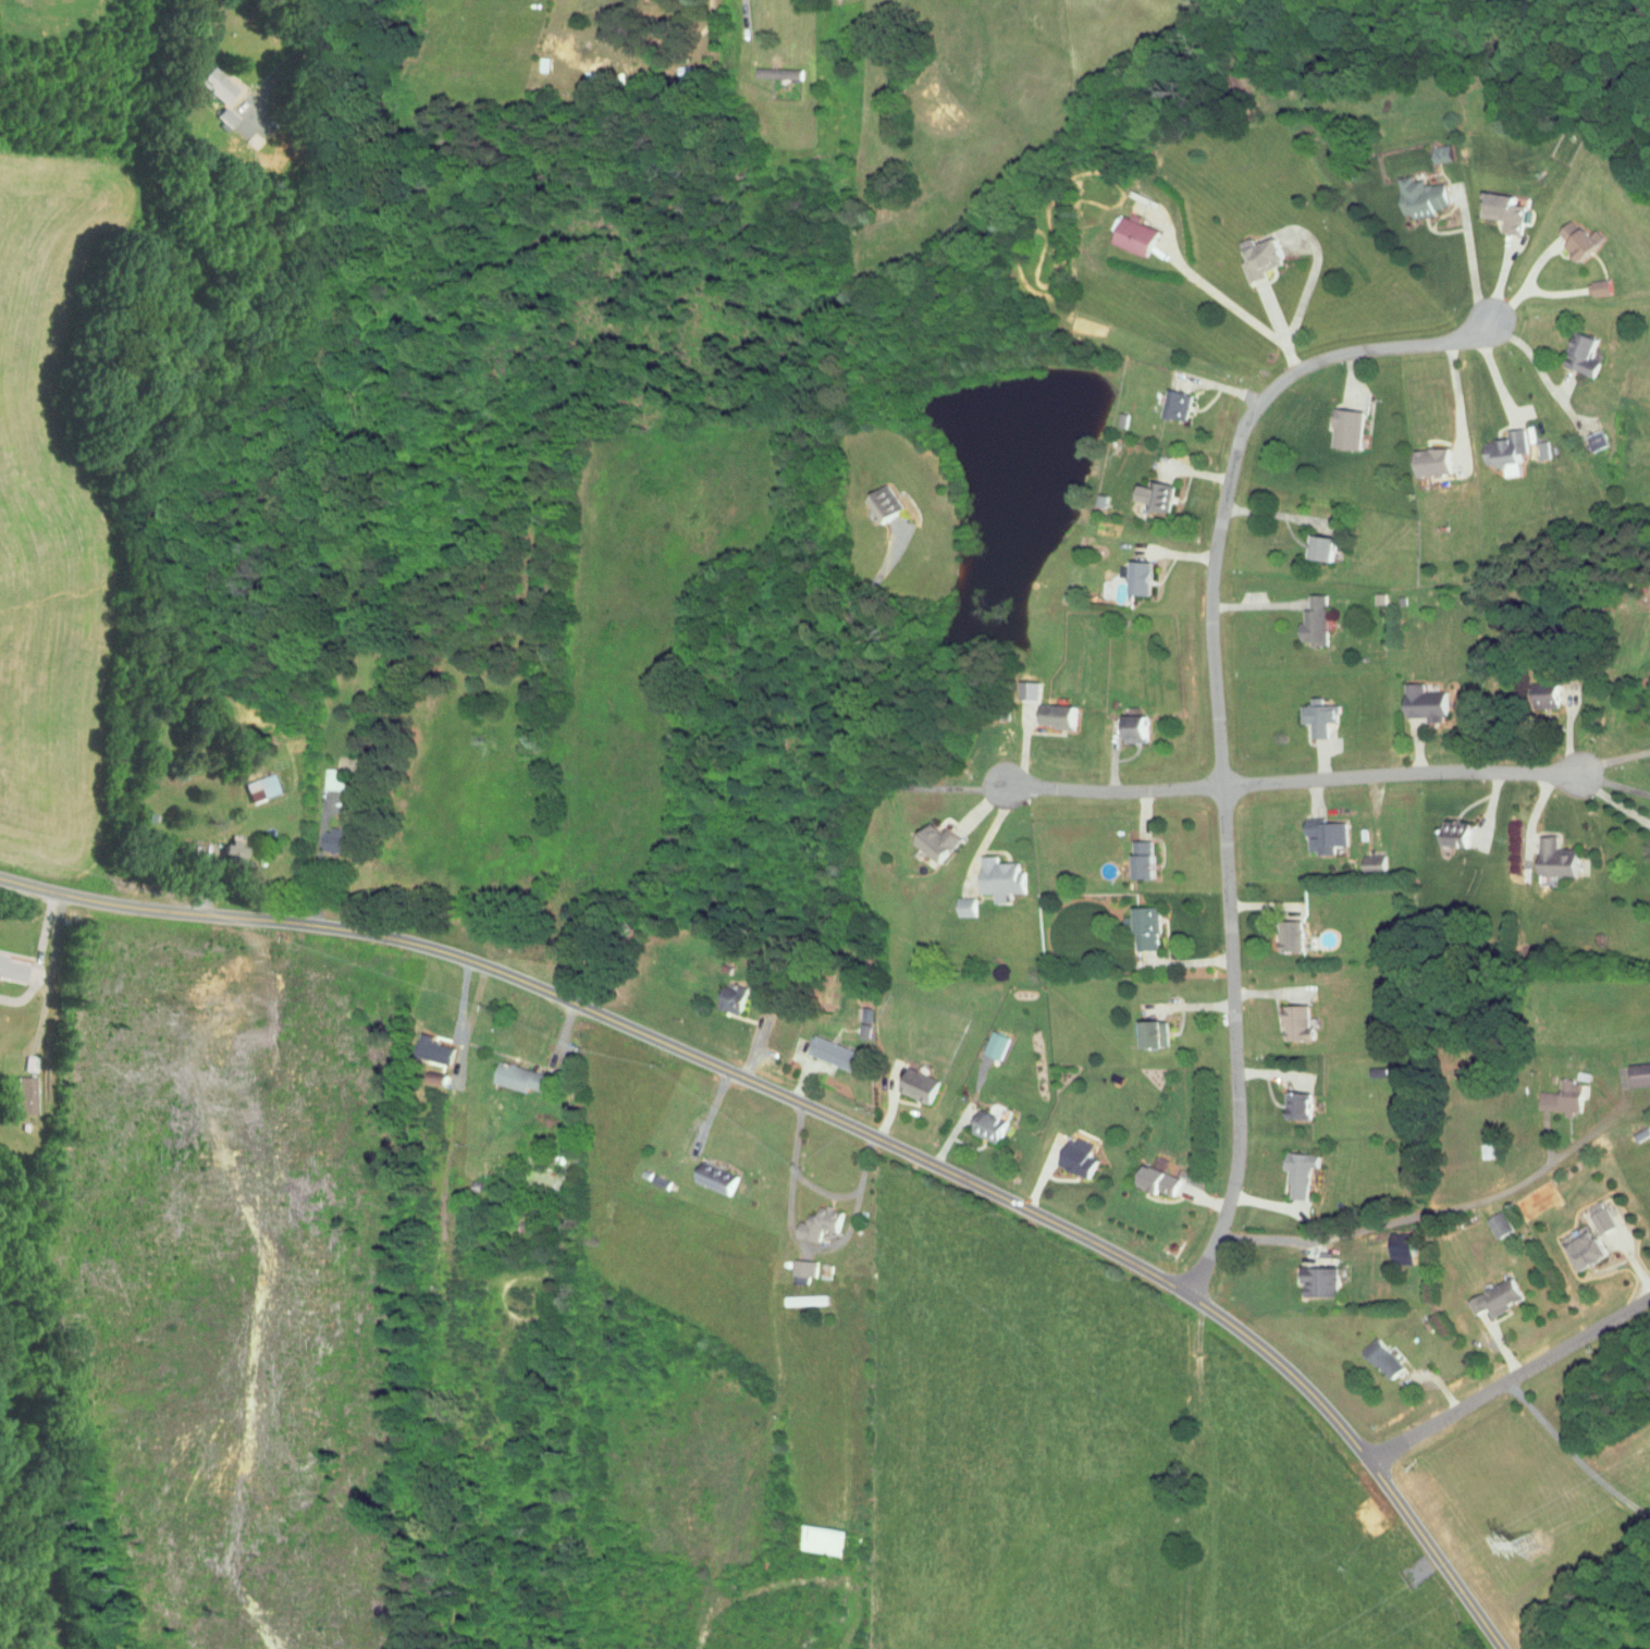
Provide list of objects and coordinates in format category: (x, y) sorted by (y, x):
road: (747, 8)
road: (298, 54)
building: (777, 72)
building: (588, 76)
building: (216, 84)
building: (224, 116)
building: (1419, 196)
building: (1501, 211)
building: (1131, 235)
building: (1577, 239)
building: (1257, 257)
road: (1312, 274)
road: (1497, 280)
road: (1527, 282)
building: (1598, 287)
road: (1209, 288)
road: (1490, 320)
road: (1282, 329)
building: (1579, 354)
road: (1493, 368)
road: (1254, 401)
road: (1456, 402)
building: (1173, 405)
building: (1344, 428)
building: (1594, 440)
building: (1541, 450)
building: (1504, 452)
building: (1429, 462)
road: (1202, 471)
building: (1153, 495)
building: (882, 502)
road: (1264, 513)
building: (1318, 547)
road: (1172, 552)
building: (1135, 577)
road: (1233, 605)
building: (1025, 690)
building: (1543, 697)
building: (1421, 703)
road: (852, 706)
building: (1051, 715)
road: (1246, 715)
building: (1317, 716)
road: (1216, 721)
building: (1131, 729)
road: (1526, 737)
road: (1568, 737)
road: (1610, 746)
road: (1419, 751)
road: (1043, 752)
road: (1024, 755)
road: (1136, 755)
road: (1401, 776)
building: (333, 779)
road: (1615, 783)
building: (261, 788)
road: (1099, 789)
road: (1544, 799)
road: (984, 802)
road: (1494, 802)
road: (1613, 802)
road: (993, 825)
building: (1452, 834)
building: (1322, 836)
road: (1202, 839)
building: (330, 840)
building: (934, 842)
road: (1257, 842)
building: (231, 853)
building: (1553, 858)
building: (1140, 860)
road: (316, 862)
road: (152, 878)
building: (997, 878)
road: (242, 883)
road: (1257, 906)
building: (963, 907)
road: (29, 928)
building: (1144, 928)
building: (1289, 936)
road: (1200, 963)
building: (11, 968)
road: (64, 981)
road: (420, 981)
road: (1261, 994)
building: (729, 999)
road: (1205, 1006)
building: (1294, 1023)
building: (1150, 1034)
road: (748, 1036)
road: (552, 1039)
road: (748, 1042)
building: (993, 1045)
building: (430, 1049)
building: (832, 1054)
road: (829, 1075)
road: (1263, 1075)
building: (1638, 1075)
building: (516, 1078)
building: (915, 1085)
building: (23, 1095)
building: (1561, 1098)
building: (1295, 1106)
road: (900, 1110)
road: (834, 1117)
building: (988, 1125)
building: (1640, 1134)
building: (1075, 1160)
road: (446, 1165)
building: (1296, 1173)
building: (712, 1178)
building: (1157, 1179)
road: (1070, 1189)
road: (815, 1190)
road: (1210, 1198)
road: (1258, 1198)
road: (1438, 1213)
building: (1599, 1217)
road: (1155, 1221)
building: (816, 1223)
building: (1497, 1226)
road: (428, 1238)
building: (1581, 1250)
building: (1399, 1255)
building: (802, 1268)
building: (1317, 1282)
building: (1494, 1296)
building: (803, 1301)
road: (1504, 1350)
road: (468, 1356)
building: (1380, 1357)
road: (1514, 1385)
road: (1578, 1455)
building: (820, 1539)
power tower: (1531, 1549)

